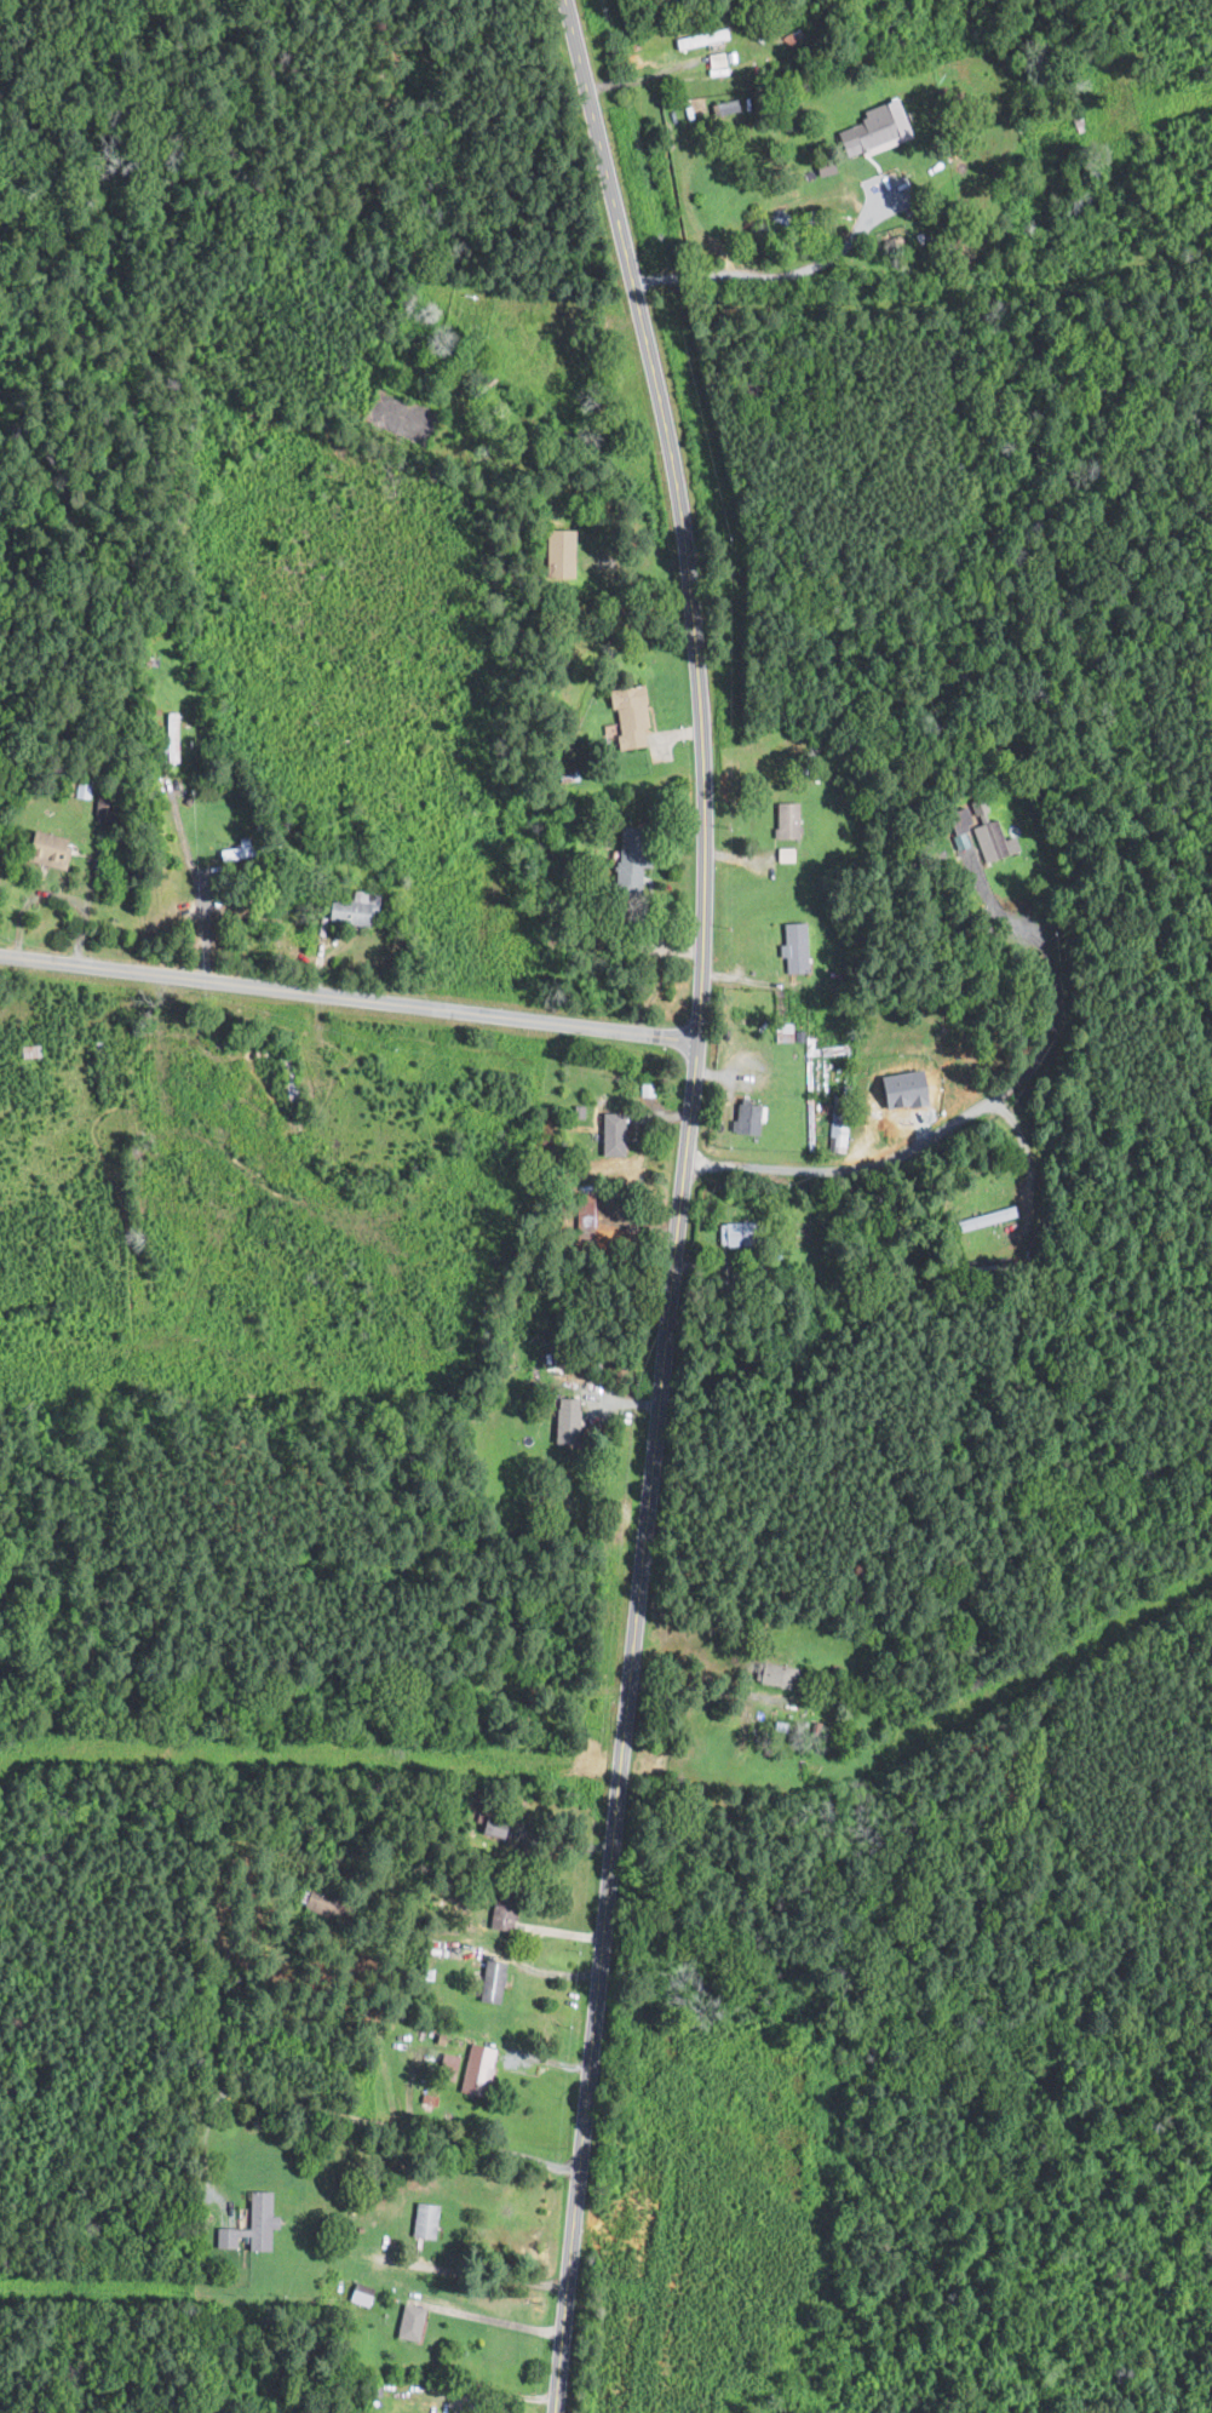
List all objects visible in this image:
building: (723, 105)
building: (871, 126)
road: (782, 274)
building: (558, 552)
building: (626, 715)
building: (783, 820)
building: (959, 820)
building: (989, 835)
building: (624, 877)
road: (199, 882)
building: (792, 947)
road: (349, 997)
road: (989, 1104)
building: (743, 1118)
building: (609, 1135)
building: (837, 1136)
road: (680, 1202)
building: (986, 1217)
building: (729, 1234)
building: (564, 1415)
road: (856, 1515)
building: (774, 1674)
road: (691, 1686)
building: (741, 1712)
building: (499, 1916)
building: (488, 1981)
building: (444, 2065)
building: (473, 2069)
road: (349, 2116)
building: (421, 2219)
building: (248, 2224)
road: (482, 2271)
building: (358, 2294)
building: (407, 2321)
road: (496, 2323)
road: (496, 2394)

